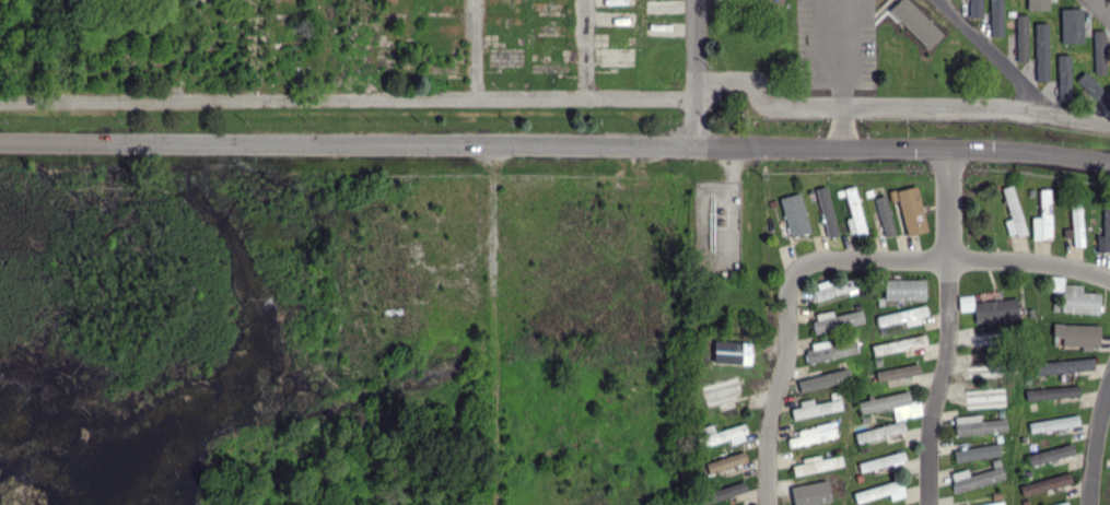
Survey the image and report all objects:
road: (808, 1)
building: (1031, 2)
road: (1102, 7)
building: (975, 8)
building: (995, 17)
building: (915, 22)
building: (1071, 25)
building: (1021, 37)
road: (841, 38)
parking lot: (836, 44)
road: (584, 48)
road: (250, 49)
road: (362, 49)
road: (474, 49)
road: (62, 50)
building: (1041, 51)
road: (993, 54)
building: (1099, 54)
building: (1107, 69)
road: (694, 73)
building: (1063, 74)
building: (1093, 89)
road: (347, 98)
building: (736, 101)
road: (901, 104)
road: (843, 127)
road: (554, 145)
road: (947, 151)
building: (1061, 192)
building: (810, 193)
building: (839, 193)
building: (867, 193)
building: (1029, 193)
building: (891, 197)
building: (735, 201)
building: (771, 204)
building: (1014, 211)
building: (721, 212)
building: (854, 212)
building: (910, 212)
building: (826, 213)
building: (793, 215)
building: (1044, 215)
building: (884, 216)
building: (1075, 222)
building: (721, 223)
building: (1106, 230)
road: (832, 257)
building: (734, 266)
building: (703, 274)
building: (722, 274)
building: (731, 274)
building: (838, 290)
building: (903, 291)
building: (861, 292)
building: (1078, 301)
building: (878, 303)
building: (965, 303)
building: (856, 307)
building: (1054, 308)
building: (995, 310)
building: (1023, 313)
building: (901, 317)
building: (837, 322)
building: (1016, 328)
building: (881, 331)
building: (1077, 334)
building: (851, 337)
building: (996, 341)
building: (696, 342)
building: (898, 347)
building: (731, 351)
building: (830, 353)
building: (709, 354)
building: (877, 363)
building: (1063, 365)
building: (842, 366)
building: (994, 371)
building: (897, 372)
building: (822, 380)
road: (938, 381)
building: (995, 386)
building: (1052, 392)
building: (715, 394)
building: (834, 396)
building: (985, 398)
building: (883, 403)
building: (692, 406)
building: (815, 410)
building: (1000, 413)
building: (865, 419)
building: (1053, 423)
building: (830, 424)
building: (979, 427)
building: (854, 431)
building: (878, 433)
building: (721, 436)
building: (811, 437)
building: (996, 439)
road: (1095, 442)
building: (837, 453)
building: (978, 454)
building: (1050, 456)
building: (694, 459)
building: (880, 461)
building: (994, 463)
building: (718, 466)
building: (816, 467)
building: (1025, 474)
building: (977, 480)
building: (705, 481)
building: (836, 482)
building: (1044, 485)
building: (877, 492)
building: (720, 494)
building: (816, 496)
building: (995, 496)
building: (1024, 503)
building: (996, 504)
building: (1063, 504)

